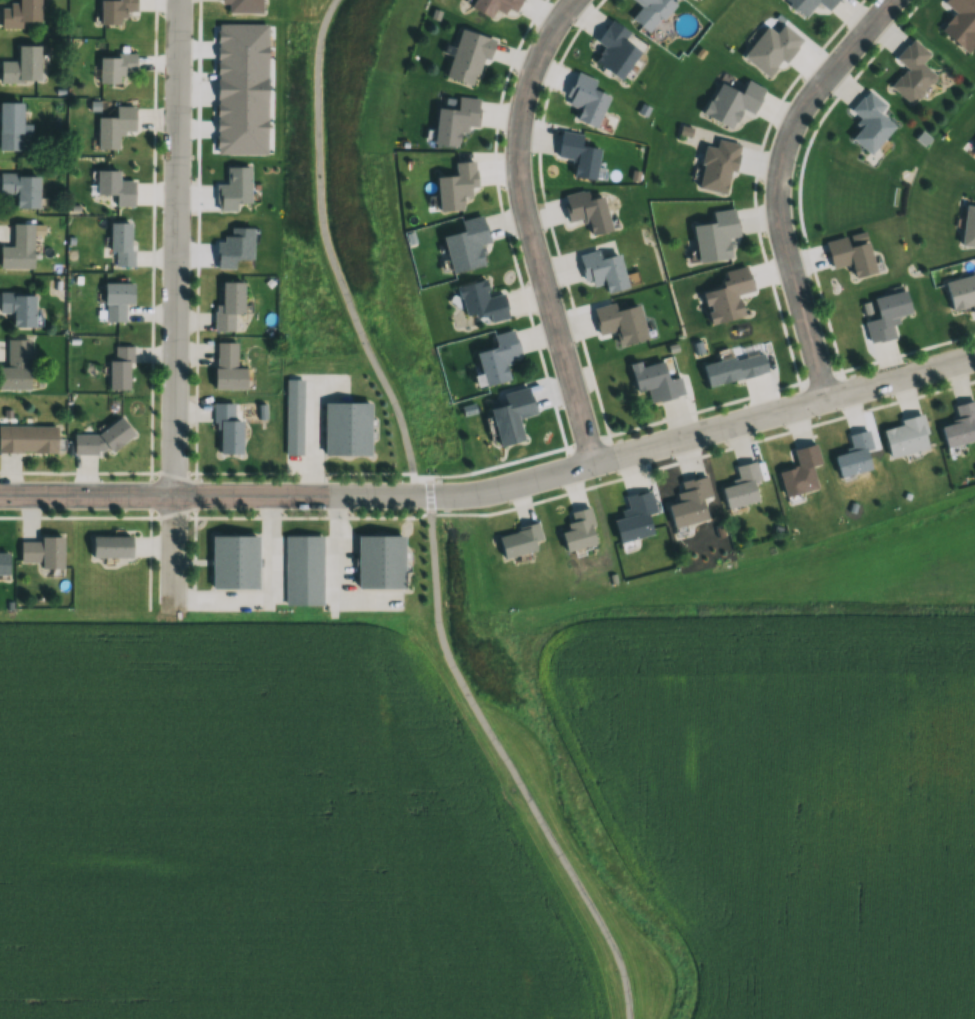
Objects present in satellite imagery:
building: (808, 5)
building: (242, 6)
building: (495, 6)
building: (115, 10)
building: (651, 12)
building: (20, 13)
building: (960, 22)
building: (771, 49)
building: (615, 50)
building: (467, 57)
building: (21, 66)
building: (115, 67)
building: (912, 73)
building: (585, 99)
building: (731, 103)
building: (455, 121)
building: (869, 123)
building: (10, 127)
building: (115, 127)
building: (974, 148)
building: (578, 155)
building: (718, 167)
road: (776, 183)
building: (455, 186)
building: (115, 187)
building: (21, 189)
building: (587, 210)
road: (528, 228)
building: (715, 236)
building: (121, 243)
building: (465, 245)
building: (19, 249)
building: (850, 256)
building: (603, 271)
building: (961, 292)
building: (726, 296)
building: (117, 299)
building: (481, 301)
road: (175, 303)
building: (228, 306)
building: (18, 309)
building: (886, 316)
building: (620, 323)
building: (497, 358)
building: (16, 366)
building: (227, 367)
building: (120, 369)
building: (734, 369)
building: (656, 383)
building: (294, 416)
building: (960, 426)
building: (228, 428)
building: (346, 429)
road: (313, 434)
building: (906, 437)
building: (27, 439)
road: (703, 454)
building: (854, 456)
road: (205, 472)
building: (800, 472)
building: (741, 486)
road: (496, 489)
building: (689, 502)
road: (430, 515)
building: (634, 517)
road: (215, 520)
building: (578, 530)
building: (518, 541)
building: (103, 553)
building: (35, 558)
building: (380, 561)
building: (234, 562)
building: (3, 563)
building: (304, 570)
road: (337, 577)
road: (272, 594)

